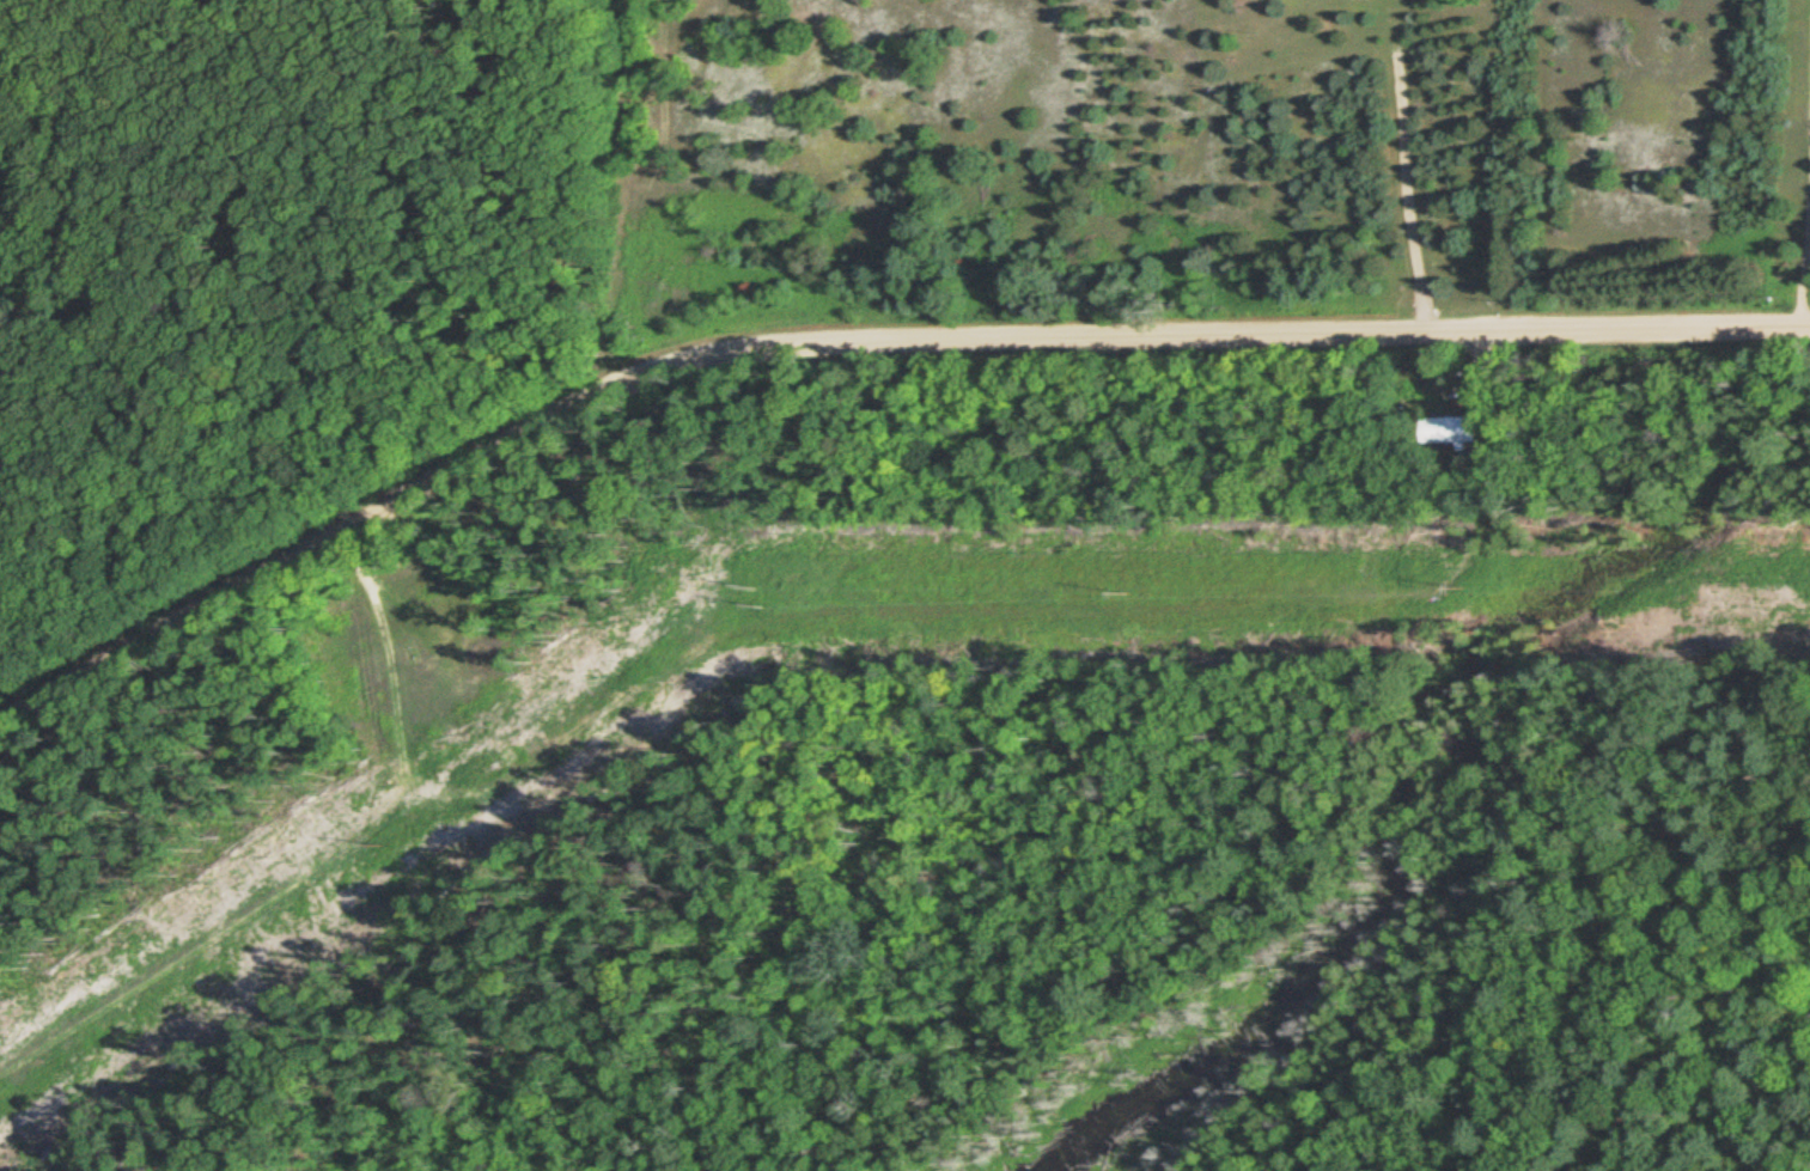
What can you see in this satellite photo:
road: (858, 335)
building: (1451, 429)
river: (1396, 794)

